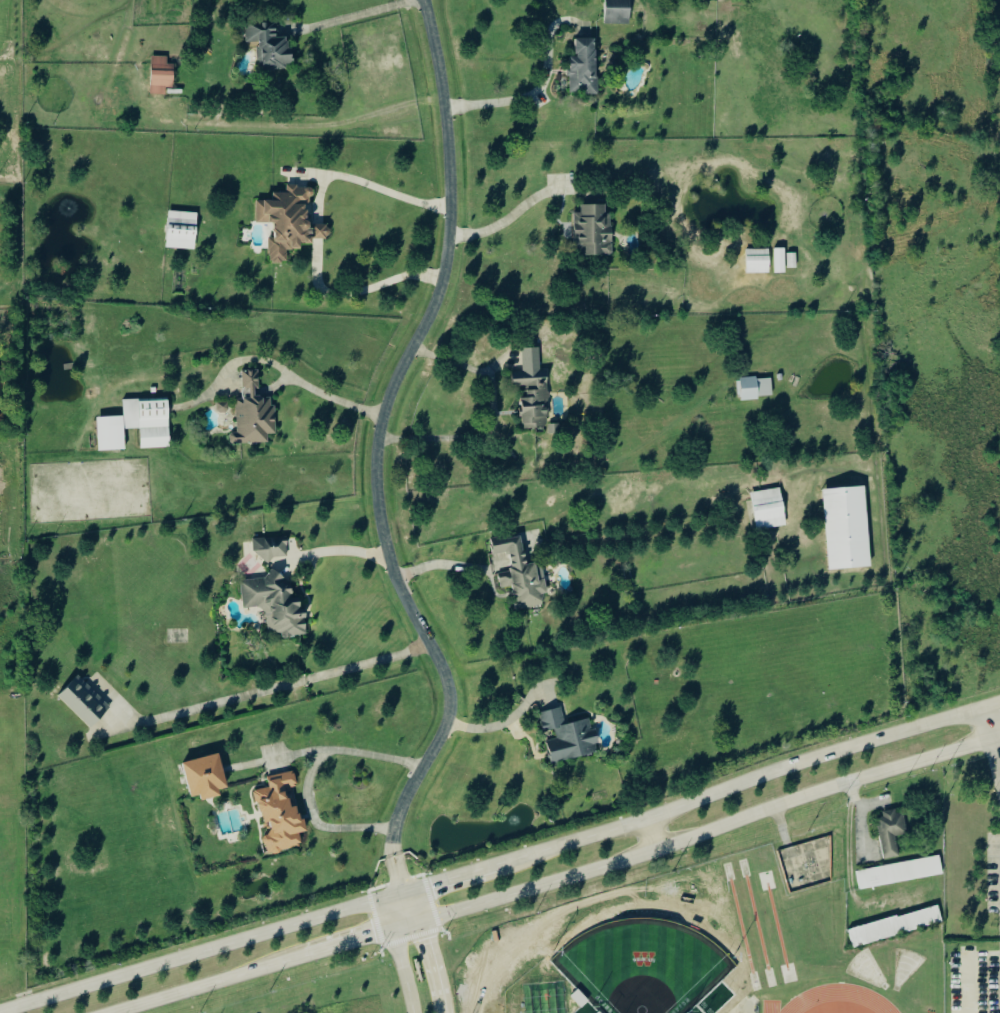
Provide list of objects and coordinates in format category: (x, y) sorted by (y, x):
building: (615, 11)
road: (344, 18)
building: (270, 46)
building: (585, 69)
building: (158, 76)
road: (510, 99)
road: (319, 125)
road: (371, 185)
road: (513, 213)
building: (291, 222)
building: (179, 231)
building: (594, 232)
building: (756, 261)
building: (790, 261)
building: (780, 262)
road: (361, 290)
building: (779, 377)
building: (748, 389)
road: (335, 394)
building: (533, 398)
road: (490, 412)
building: (254, 413)
building: (134, 426)
road: (375, 452)
building: (766, 509)
building: (844, 528)
building: (272, 548)
road: (331, 551)
road: (436, 563)
building: (521, 573)
building: (277, 603)
road: (281, 686)
building: (82, 703)
road: (990, 707)
road: (494, 725)
building: (569, 737)
road: (990, 744)
road: (307, 770)
building: (203, 778)
road: (737, 785)
building: (281, 814)
building: (892, 831)
road: (700, 832)
road: (651, 834)
building: (898, 872)
road: (449, 877)
building: (896, 926)
road: (355, 940)
road: (430, 949)
road: (201, 952)
road: (400, 952)
park: (641, 956)
road: (210, 983)
track: (832, 998)

